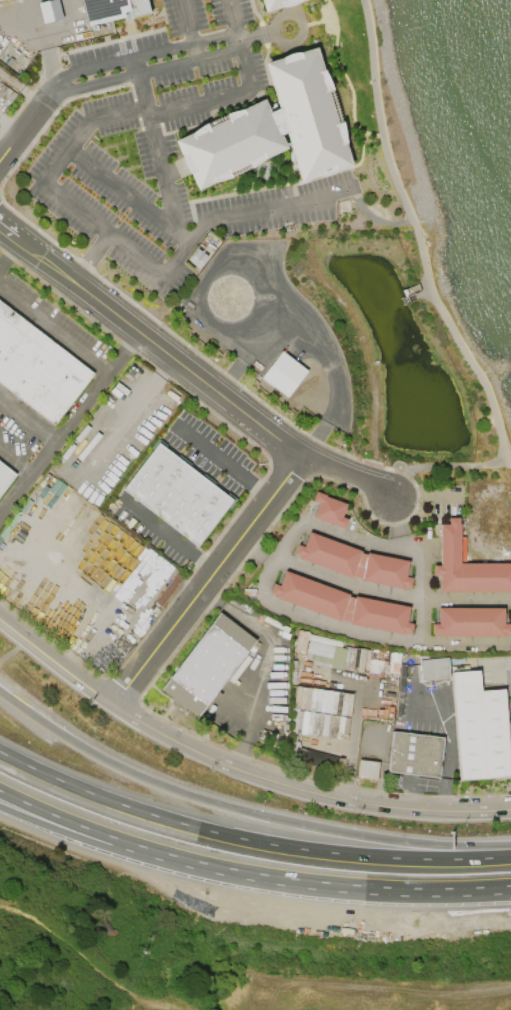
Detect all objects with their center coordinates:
building: (276, 4)
building: (111, 9)
building: (49, 10)
road: (16, 13)
road: (233, 18)
road: (186, 26)
road: (43, 45)
road: (139, 53)
road: (128, 69)
park: (349, 92)
road: (225, 97)
building: (273, 127)
road: (121, 189)
road: (66, 201)
road: (375, 219)
road: (180, 232)
road: (420, 239)
road: (11, 256)
road: (90, 256)
helipad: (228, 297)
road: (55, 332)
road: (150, 341)
building: (37, 368)
building: (283, 374)
road: (132, 414)
road: (28, 421)
road: (70, 425)
road: (222, 461)
road: (442, 468)
road: (348, 472)
building: (5, 476)
road: (426, 491)
building: (177, 492)
building: (328, 510)
road: (337, 529)
road: (169, 536)
building: (353, 561)
road: (419, 564)
building: (466, 566)
road: (207, 579)
road: (345, 580)
road: (465, 597)
building: (341, 604)
building: (470, 622)
road: (338, 629)
road: (12, 631)
road: (12, 650)
building: (327, 653)
road: (263, 663)
building: (207, 664)
building: (433, 668)
road: (499, 672)
road: (67, 673)
building: (322, 711)
road: (357, 719)
road: (142, 724)
building: (479, 728)
road: (445, 729)
road: (192, 750)
building: (414, 754)
building: (366, 769)
road: (407, 792)
road: (358, 802)
road: (242, 810)
road: (95, 831)
road: (248, 839)
road: (94, 843)
road: (351, 888)
road: (81, 960)

